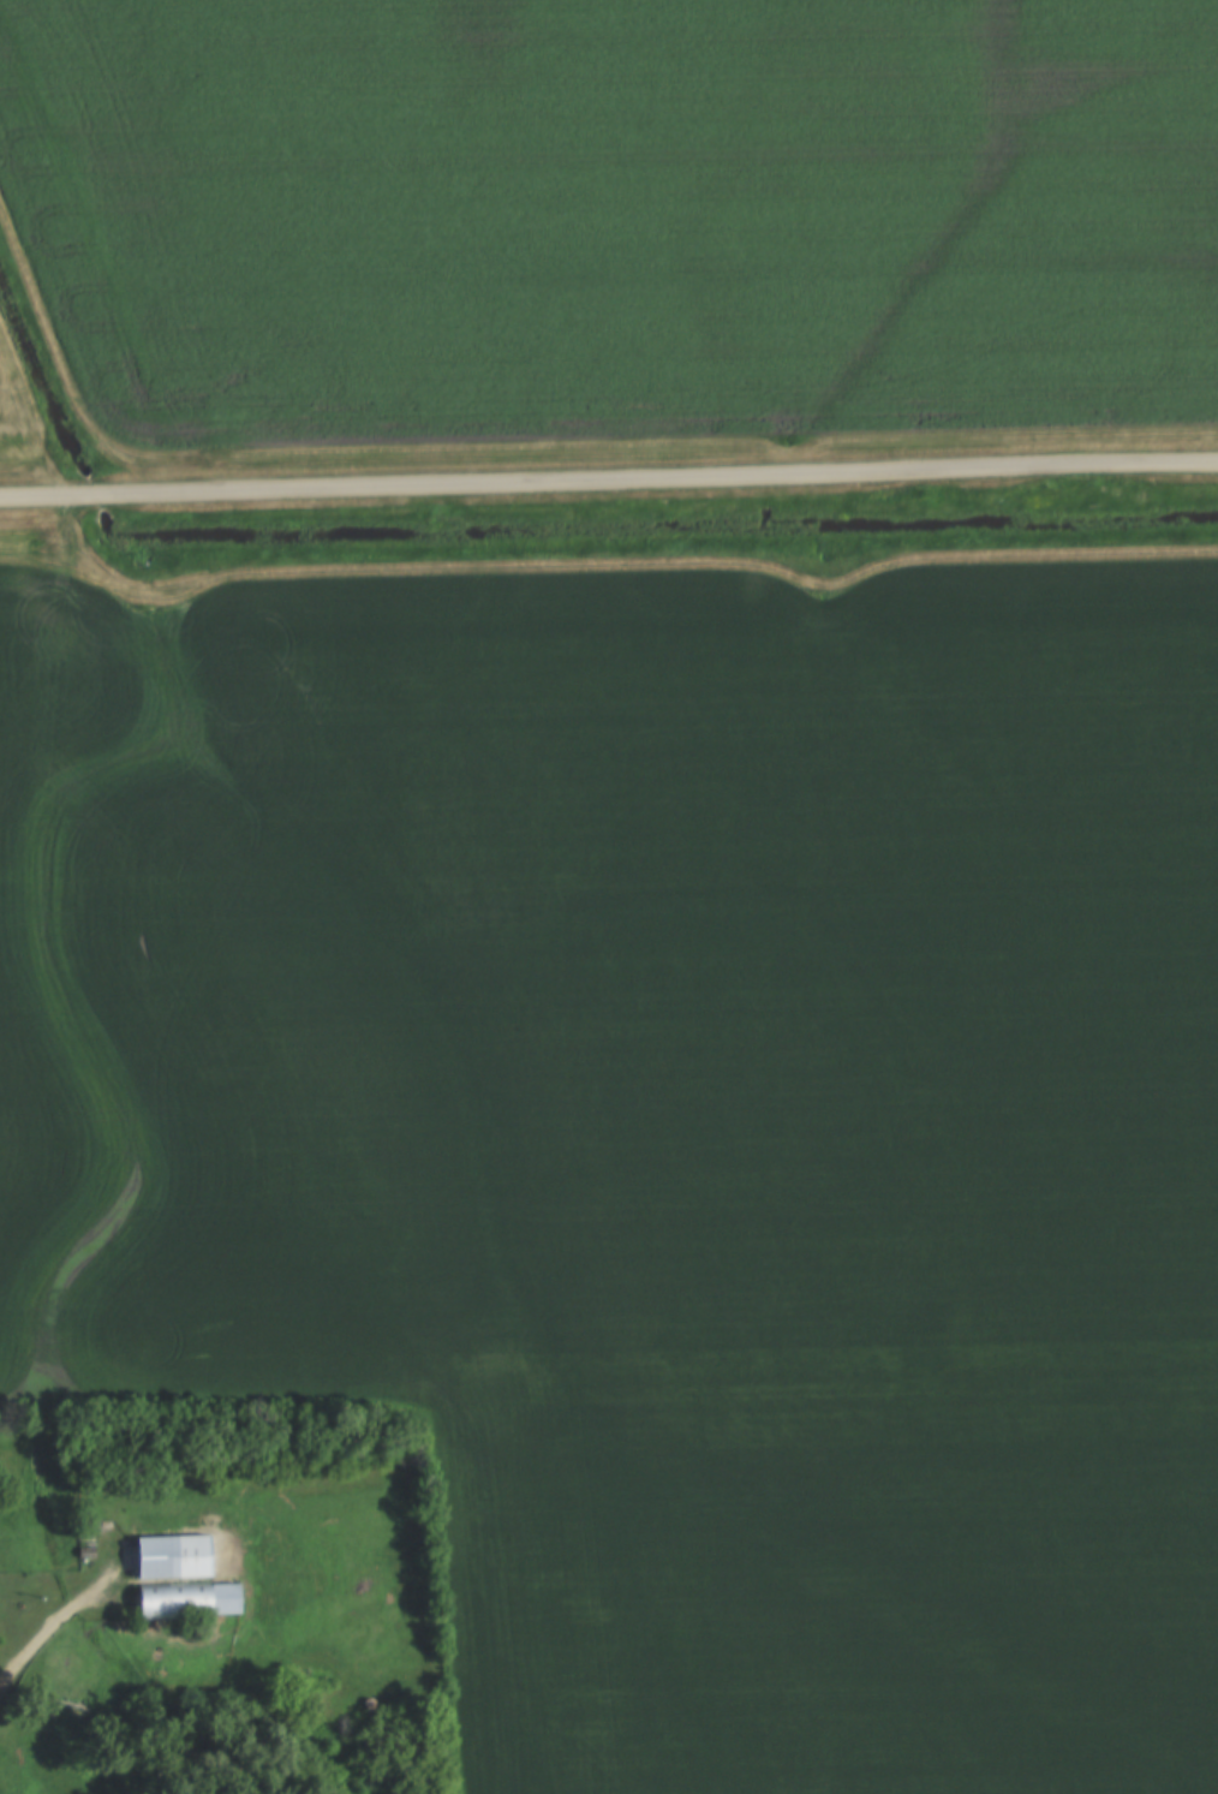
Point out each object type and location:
crop: (614, 214)
road: (609, 482)
crop: (661, 1128)
building: (186, 1557)
building: (186, 1601)

